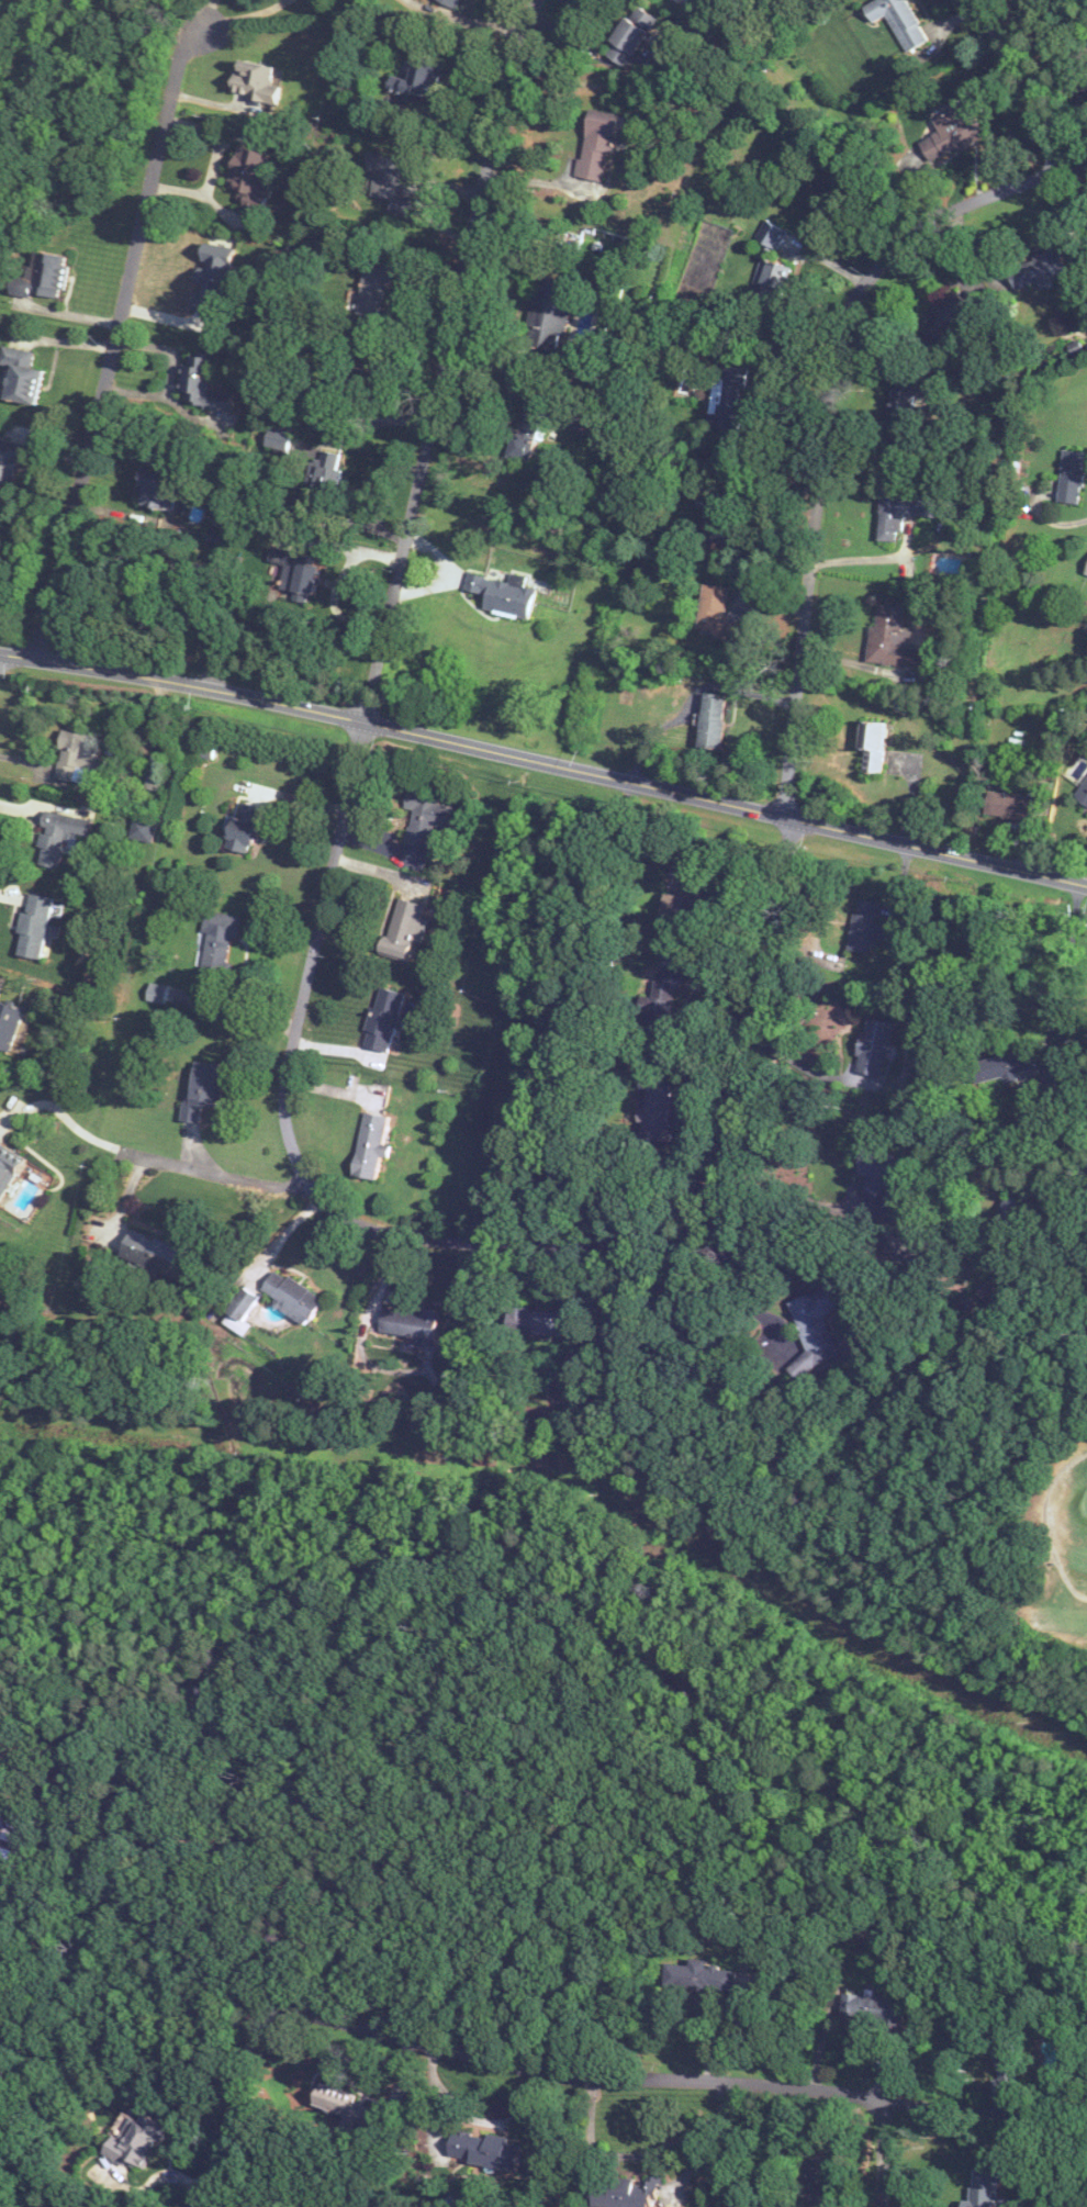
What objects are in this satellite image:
building: (453, 1)
building: (897, 21)
building: (629, 36)
building: (425, 79)
building: (261, 81)
road: (1022, 82)
building: (954, 132)
building: (601, 145)
building: (255, 177)
building: (393, 181)
building: (770, 235)
building: (1035, 269)
building: (49, 276)
building: (771, 282)
building: (217, 283)
building: (377, 290)
building: (550, 312)
building: (942, 317)
road: (119, 322)
road: (447, 358)
road: (496, 368)
building: (30, 376)
building: (208, 384)
building: (727, 399)
building: (898, 418)
road: (821, 419)
building: (526, 426)
building: (273, 439)
building: (12, 461)
building: (324, 477)
building: (1071, 477)
building: (161, 490)
building: (717, 508)
building: (899, 509)
road: (1055, 522)
road: (870, 557)
building: (1086, 571)
building: (296, 573)
building: (509, 596)
building: (715, 614)
building: (892, 637)
building: (713, 720)
building: (872, 744)
building: (77, 759)
road: (545, 761)
building: (1082, 794)
building: (1009, 806)
building: (426, 816)
building: (242, 827)
building: (60, 836)
building: (687, 882)
building: (40, 925)
building: (863, 925)
building: (404, 930)
building: (216, 945)
building: (660, 1004)
road: (1052, 1017)
building: (384, 1019)
building: (12, 1023)
building: (874, 1046)
building: (1004, 1065)
road: (810, 1069)
building: (201, 1088)
road: (52, 1105)
building: (655, 1106)
building: (370, 1145)
road: (203, 1169)
building: (10, 1175)
building: (879, 1177)
road: (787, 1189)
building: (1007, 1209)
road: (468, 1247)
building: (160, 1255)
road: (726, 1274)
building: (291, 1295)
building: (991, 1295)
building: (242, 1304)
building: (407, 1323)
building: (548, 1323)
building: (815, 1326)
park: (1050, 1558)
road: (192, 1802)
building: (1, 1816)
building: (13, 1855)
building: (701, 1976)
building: (871, 2008)
road: (621, 2079)
road: (942, 2104)
building: (349, 2106)
road: (237, 2108)
road: (479, 2119)
building: (142, 2142)
building: (483, 2149)
road: (645, 2155)
road: (164, 2174)
road: (122, 2183)
building: (983, 2189)
building: (624, 2193)

